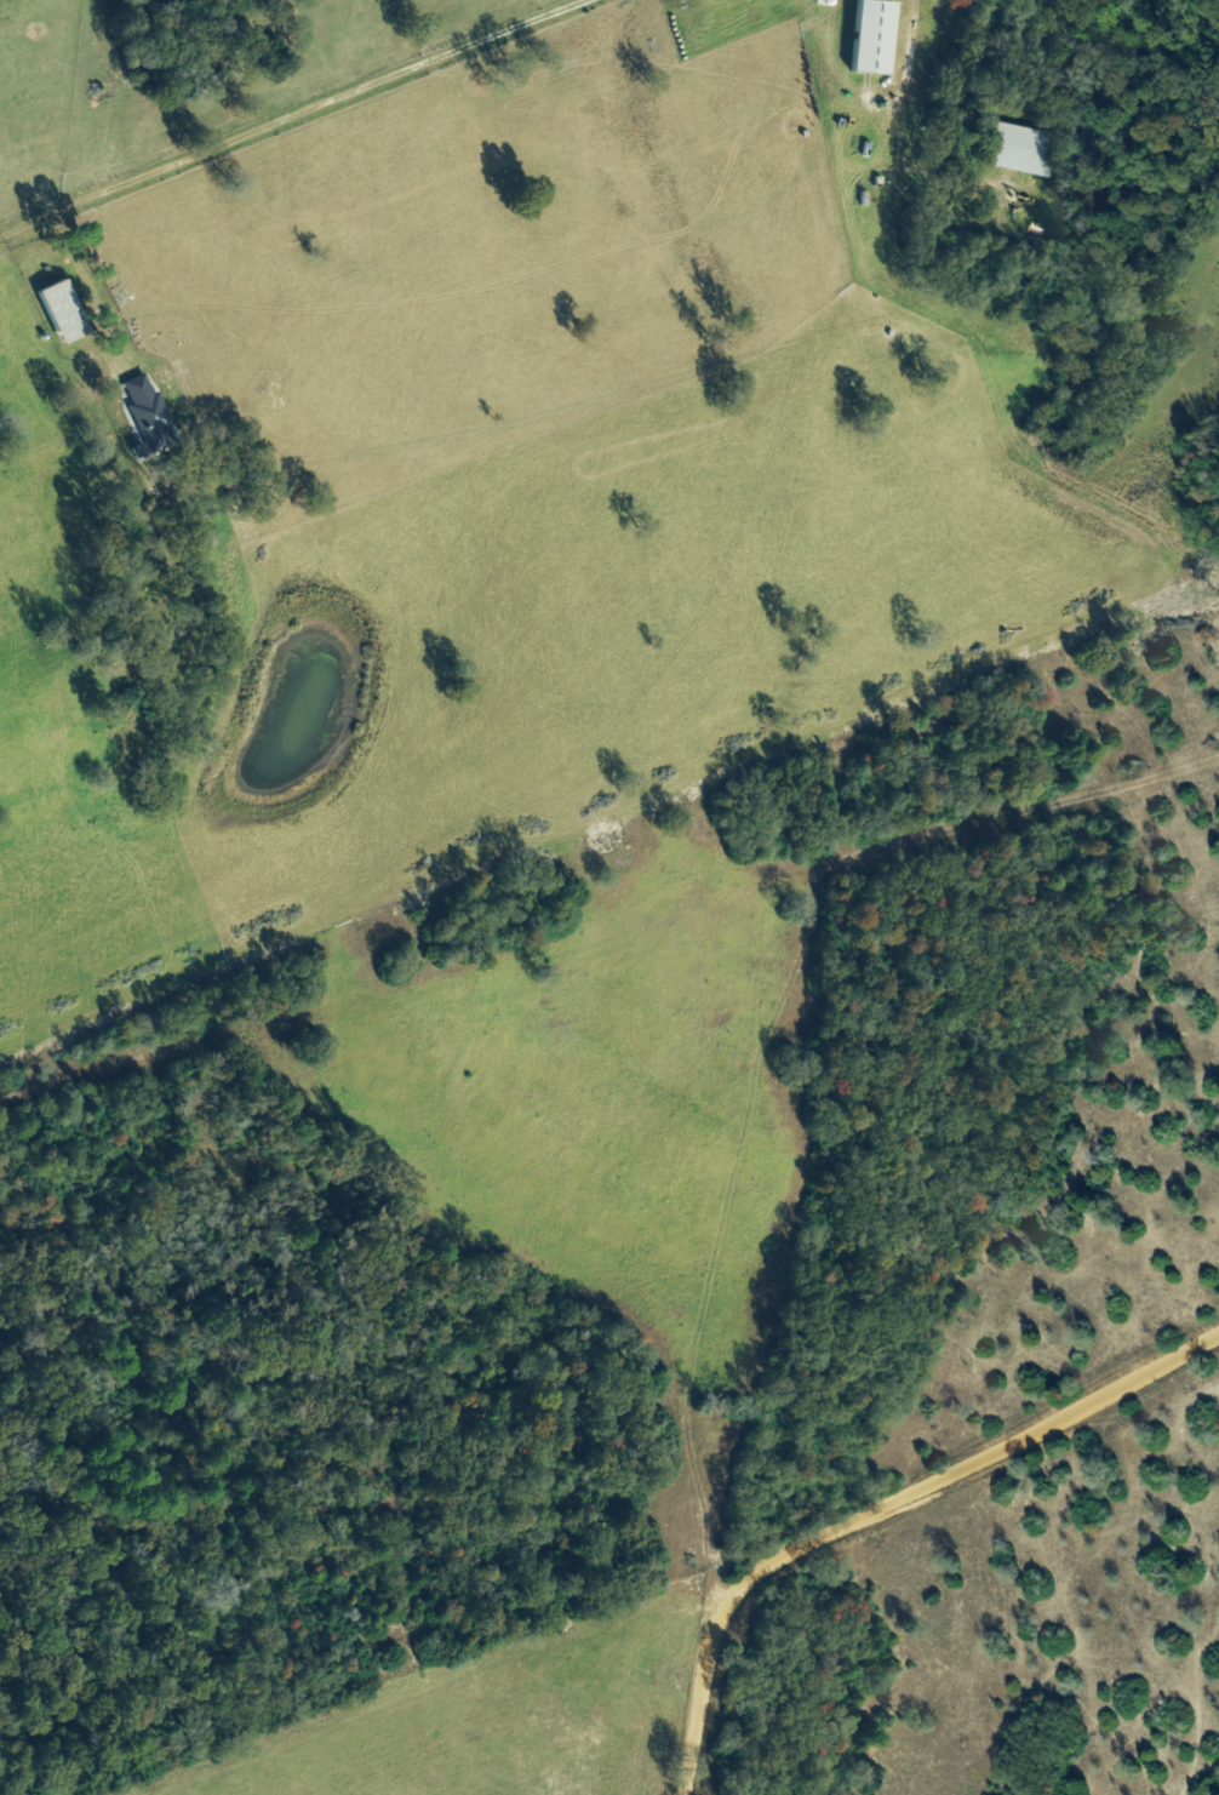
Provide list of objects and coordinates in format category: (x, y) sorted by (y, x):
building: (868, 36)
building: (1014, 150)
building: (57, 313)
road: (765, 696)
road: (886, 1520)

